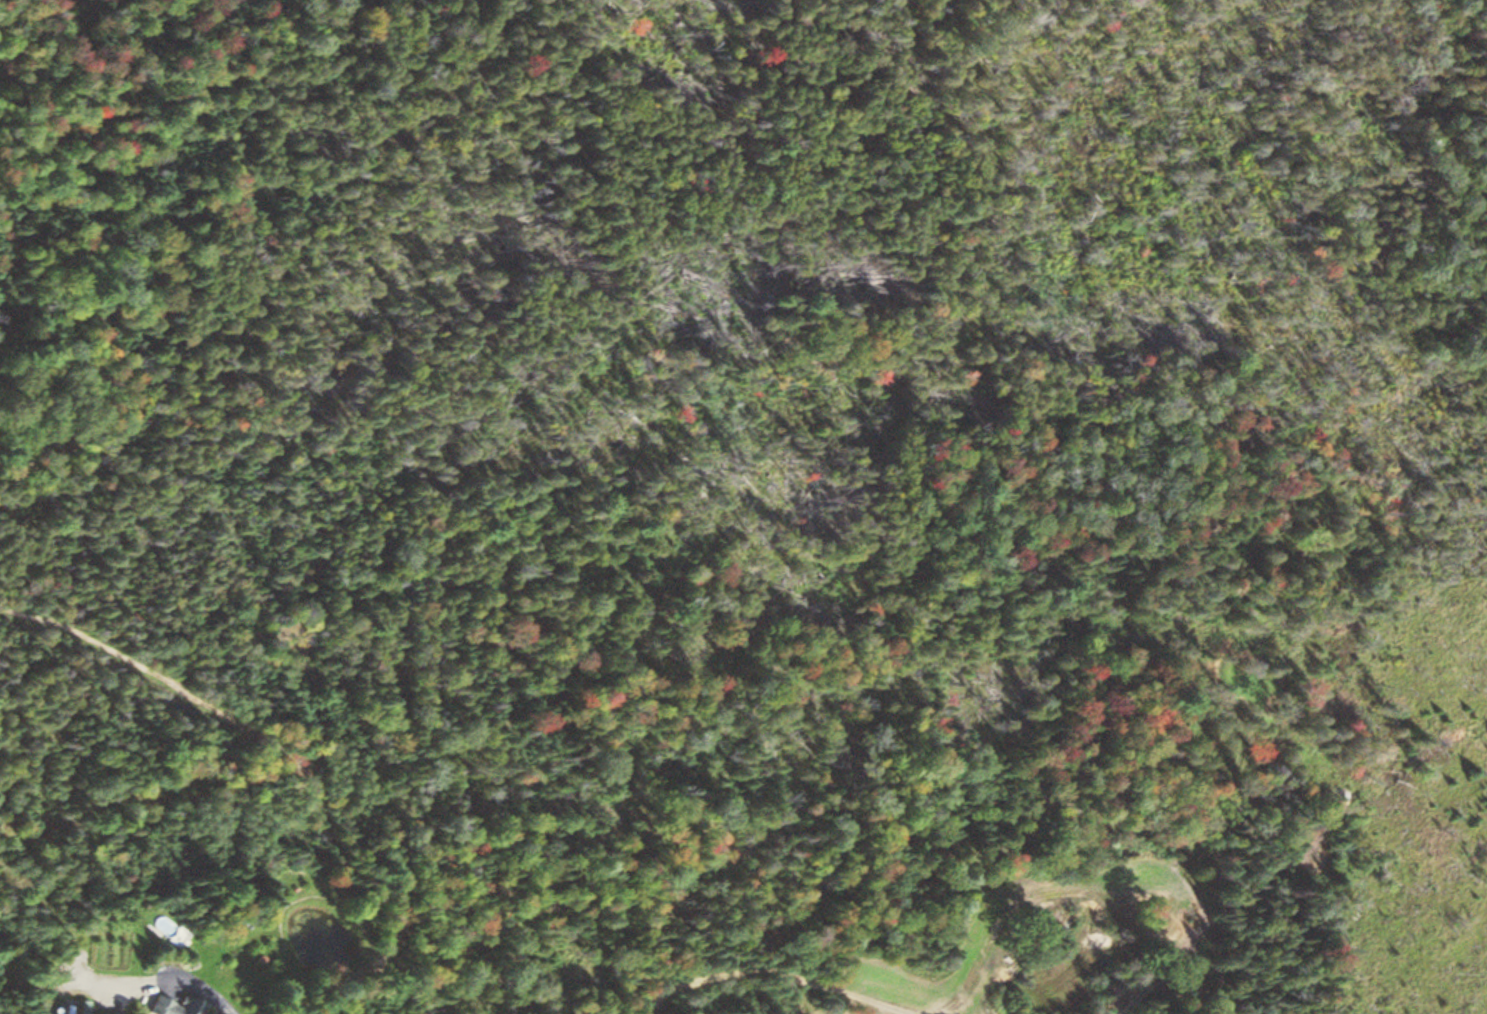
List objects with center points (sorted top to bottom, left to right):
building: (72, 976)
building: (174, 1006)
building: (81, 1007)
building: (103, 1013)

